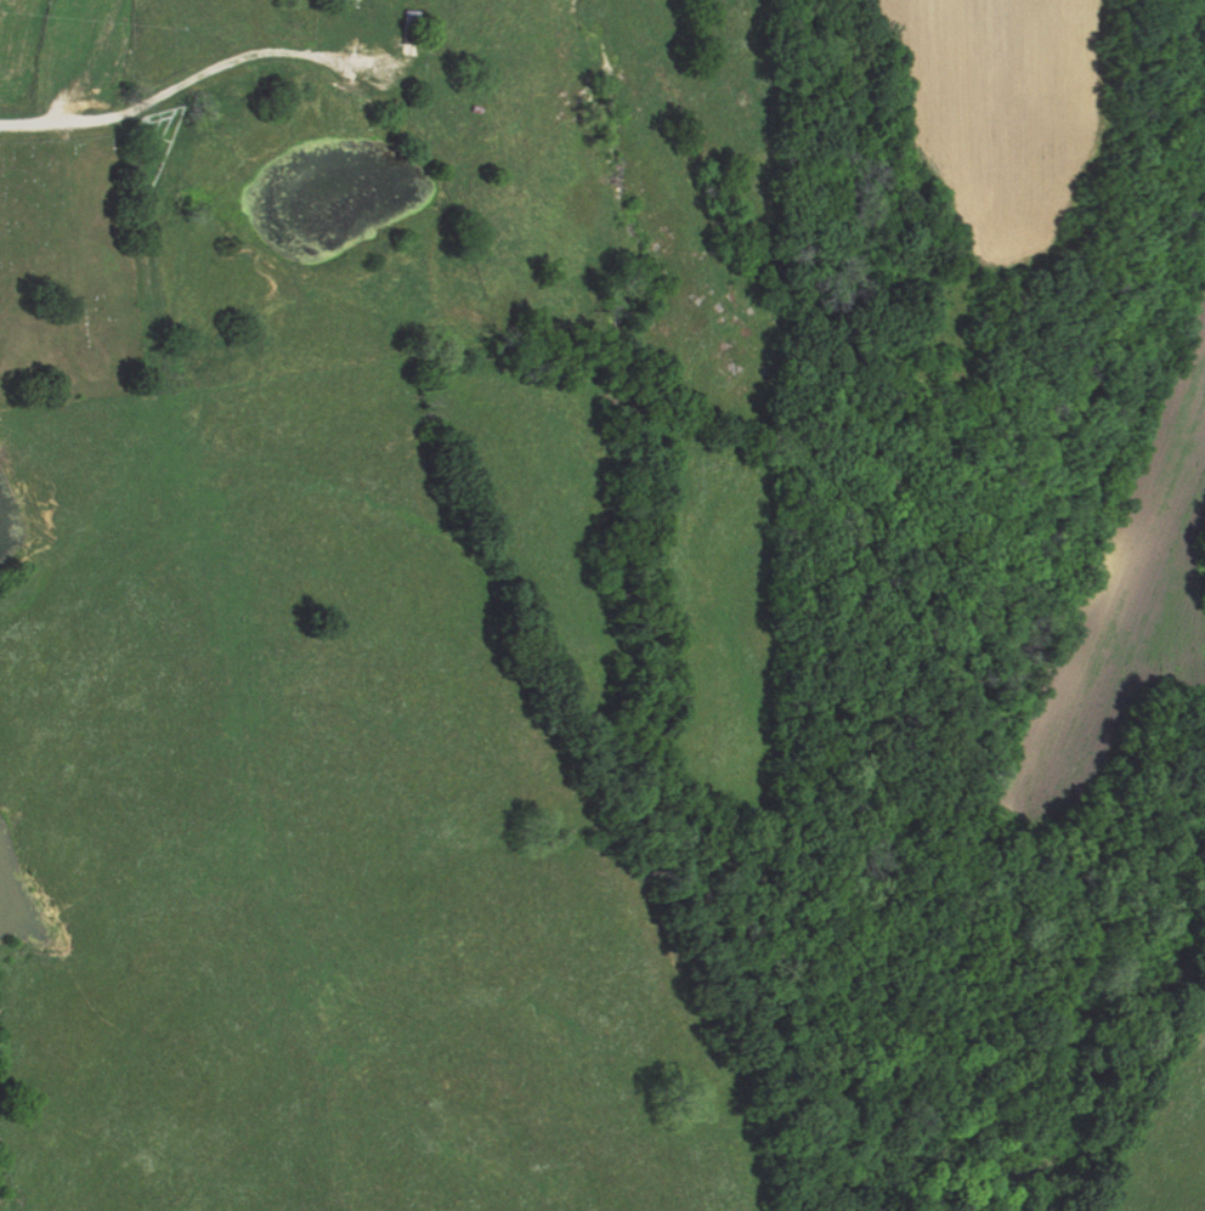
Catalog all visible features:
building: (356, 17)
road: (254, 55)
road: (70, 123)
park: (63, 266)

